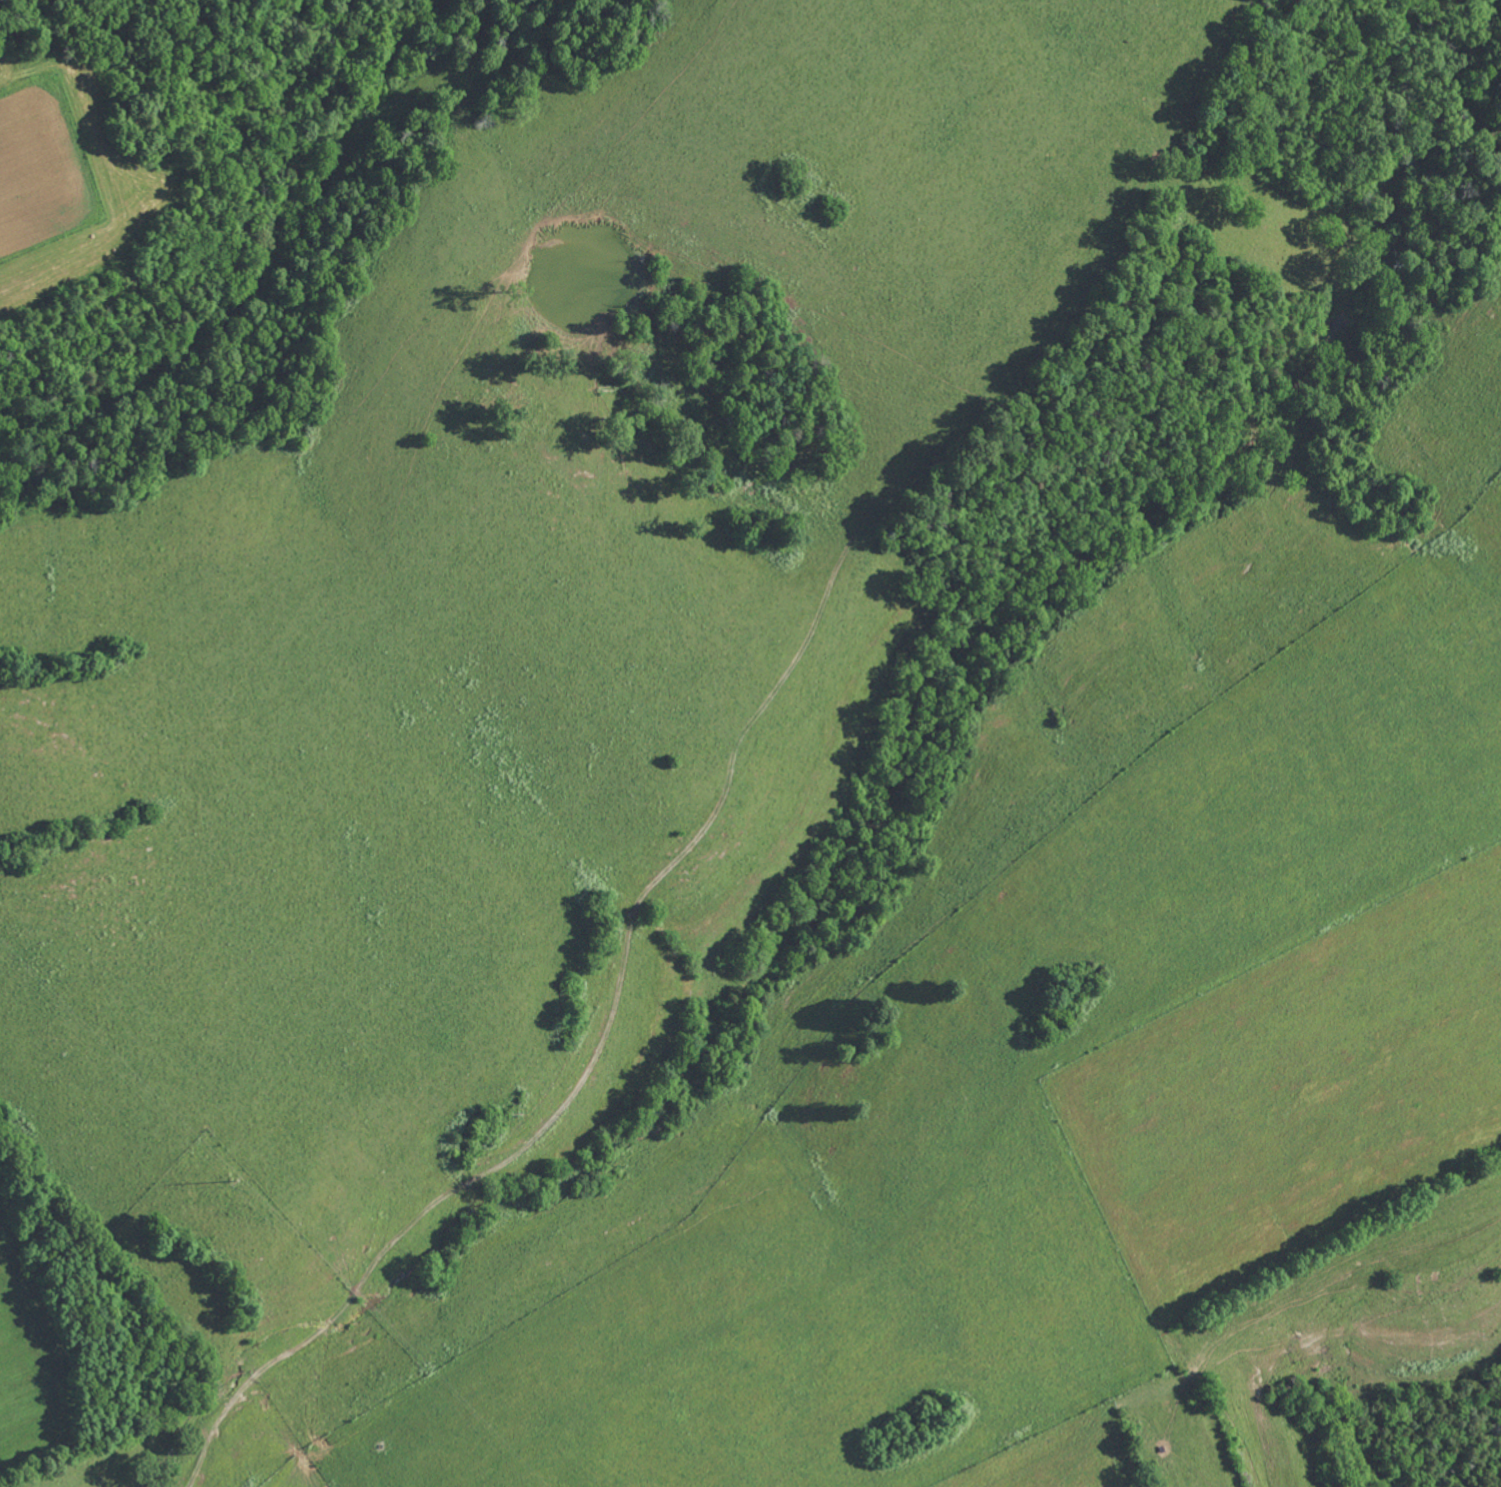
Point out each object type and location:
power tower: (240, 1184)

